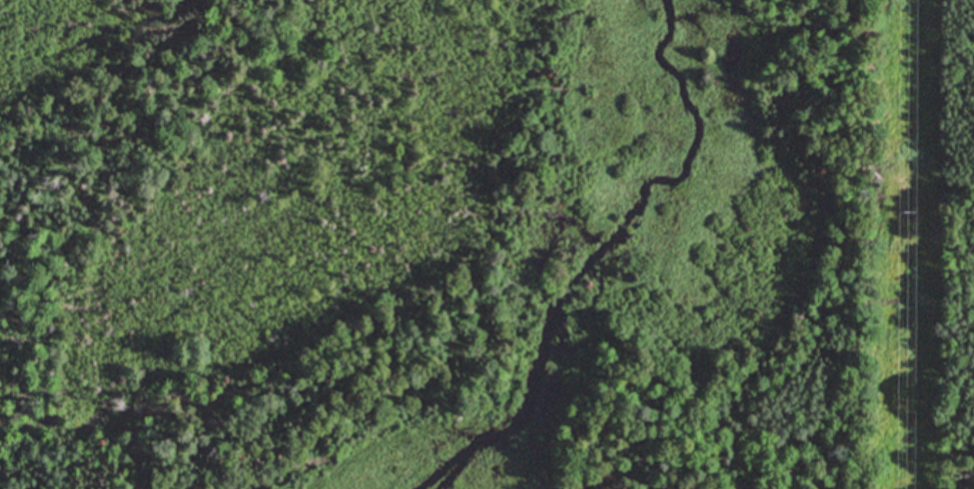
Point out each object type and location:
power tower: (911, 216)
river: (601, 254)

